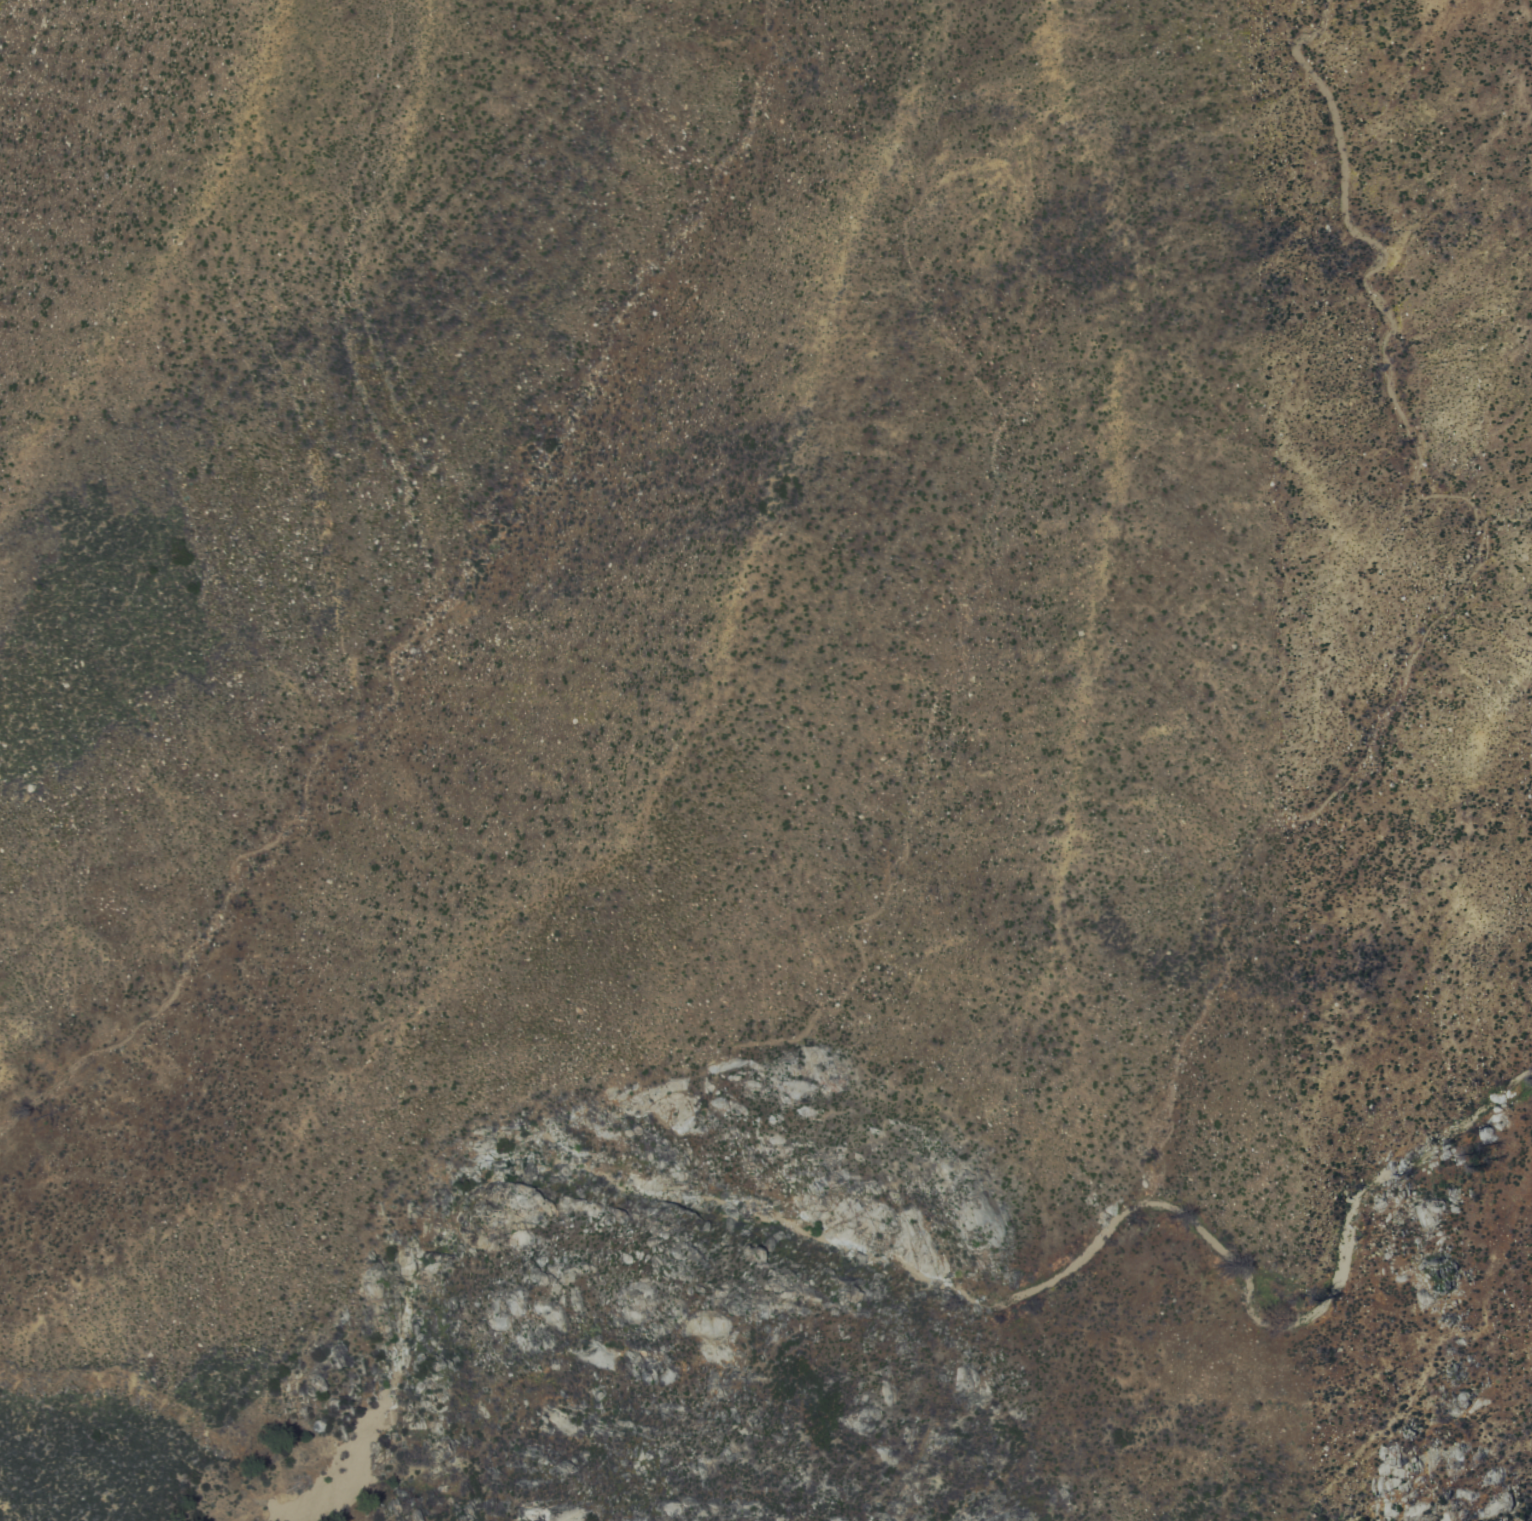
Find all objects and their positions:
road: (1425, 1343)

